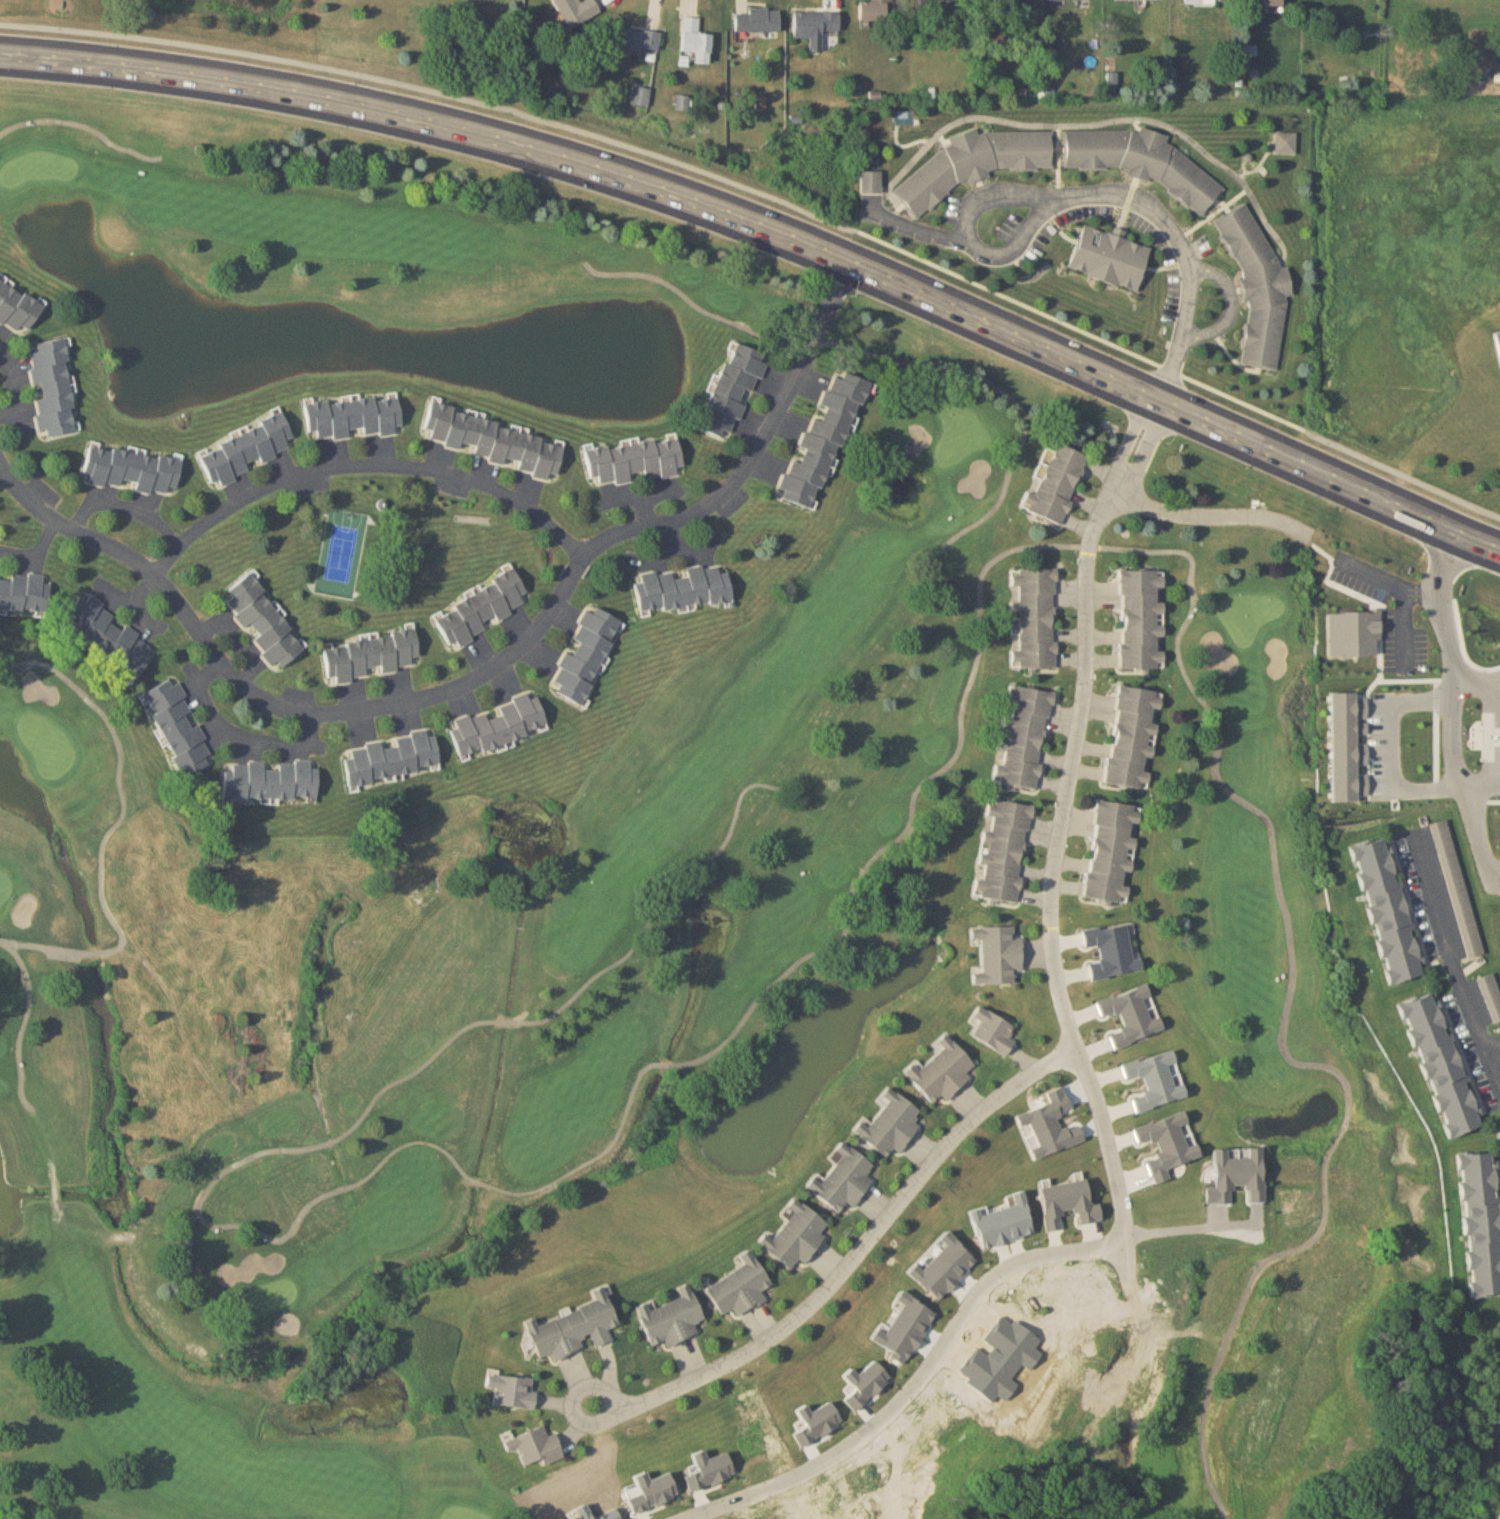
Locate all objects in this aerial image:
building: (1200, 2)
building: (1263, 2)
building: (576, 10)
building: (874, 10)
building: (758, 20)
building: (815, 23)
road: (100, 30)
building: (635, 39)
building: (696, 40)
building: (641, 95)
building: (1286, 142)
building: (1143, 162)
building: (974, 164)
building: (871, 181)
road: (1097, 195)
road: (771, 229)
road: (917, 231)
building: (1110, 258)
building: (1258, 286)
road: (1231, 303)
building: (17, 307)
building: (1497, 336)
road: (13, 383)
building: (53, 386)
building: (732, 388)
building: (354, 417)
building: (495, 441)
building: (823, 442)
building: (245, 450)
building: (634, 461)
road: (359, 462)
building: (133, 470)
road: (1402, 477)
building: (1056, 484)
road: (124, 507)
road: (1213, 514)
road: (1423, 585)
building: (682, 590)
building: (24, 594)
road: (1400, 595)
building: (478, 610)
building: (1034, 619)
building: (1141, 620)
building: (264, 621)
building: (107, 636)
building: (371, 656)
building: (585, 656)
road: (478, 678)
road: (1481, 699)
road: (1399, 715)
building: (499, 725)
building: (178, 729)
building: (1133, 738)
road: (245, 739)
building: (1023, 739)
road: (1457, 753)
building: (393, 759)
building: (270, 781)
road: (1486, 799)
road: (1063, 834)
building: (1002, 852)
building: (1112, 852)
building: (1457, 889)
park: (620, 904)
building: (1387, 912)
road: (1455, 948)
building: (998, 955)
building: (1491, 995)
building: (992, 1031)
road: (1496, 1046)
building: (1441, 1066)
building: (941, 1071)
building: (889, 1124)
building: (842, 1179)
building: (1481, 1223)
building: (796, 1237)
road: (1180, 1237)
road: (861, 1252)
building: (741, 1288)
building: (671, 1319)
building: (573, 1329)
road: (917, 1381)
building: (511, 1390)
road: (582, 1420)
building: (536, 1447)

